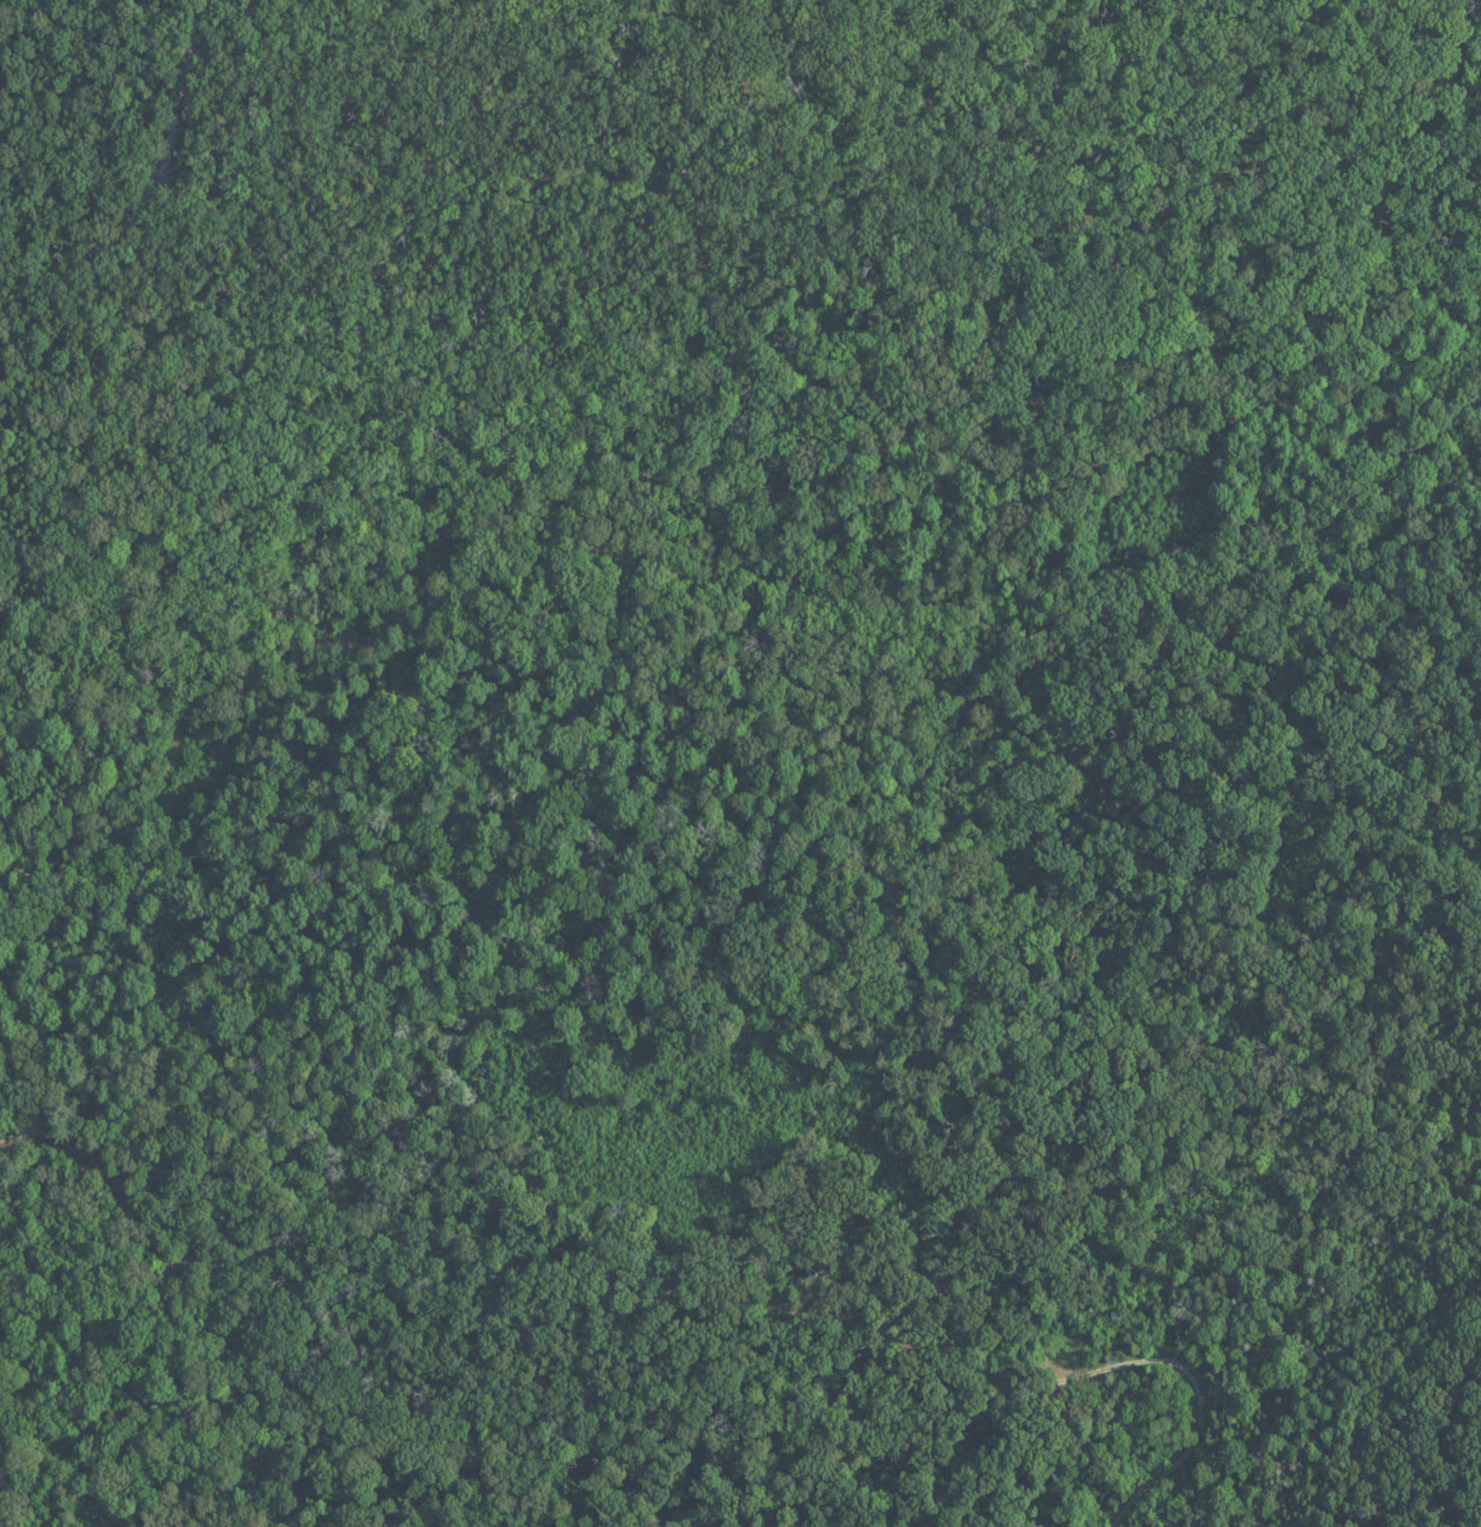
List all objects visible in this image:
park: (67, 99)
road: (111, 169)
road: (770, 257)

